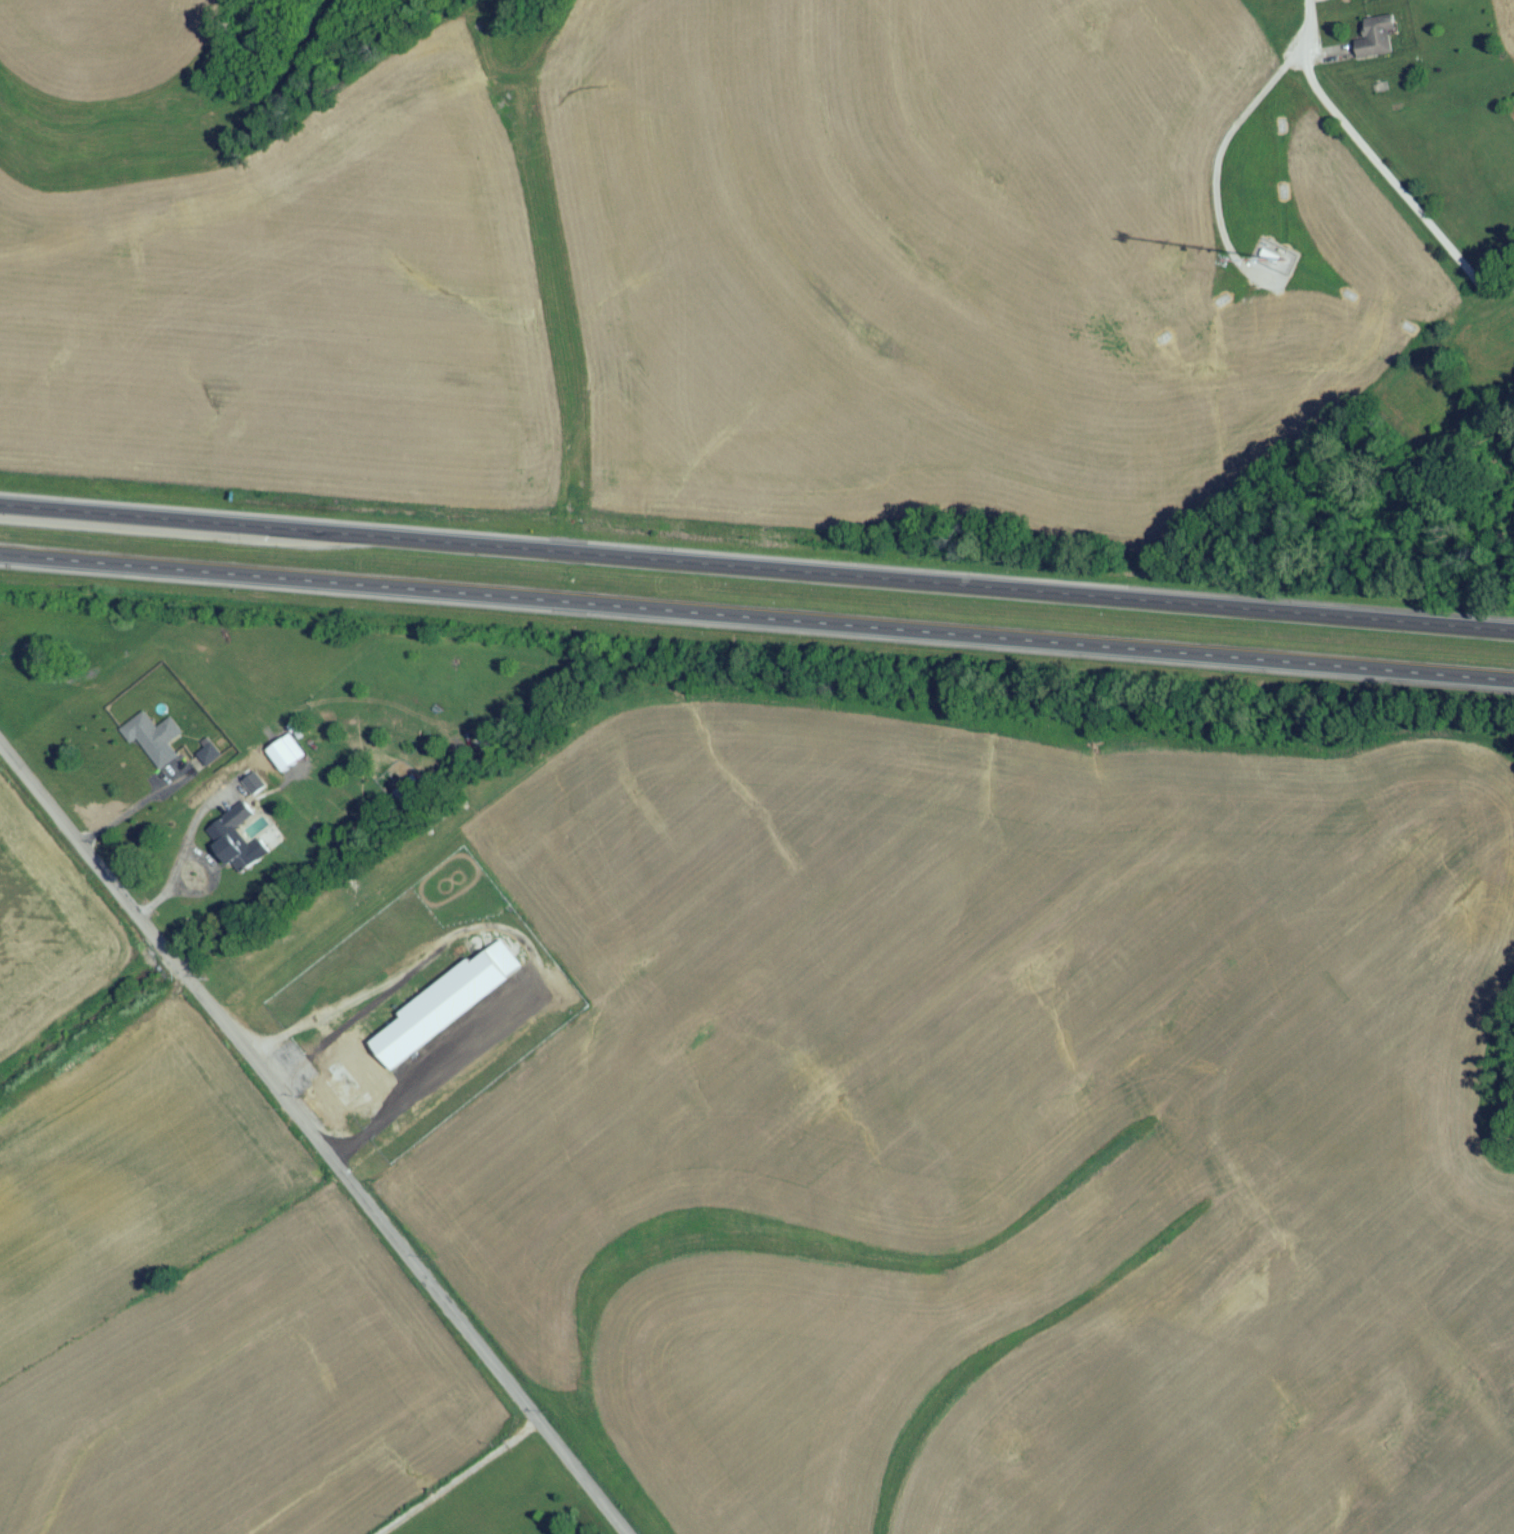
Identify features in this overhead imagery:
road: (1310, 19)
building: (1376, 42)
road: (1390, 180)
road: (152, 214)
road: (756, 571)
road: (756, 622)
building: (153, 744)
building: (250, 791)
building: (236, 846)
road: (182, 850)
road: (210, 884)
road: (521, 943)
building: (406, 1045)
road: (310, 1142)

